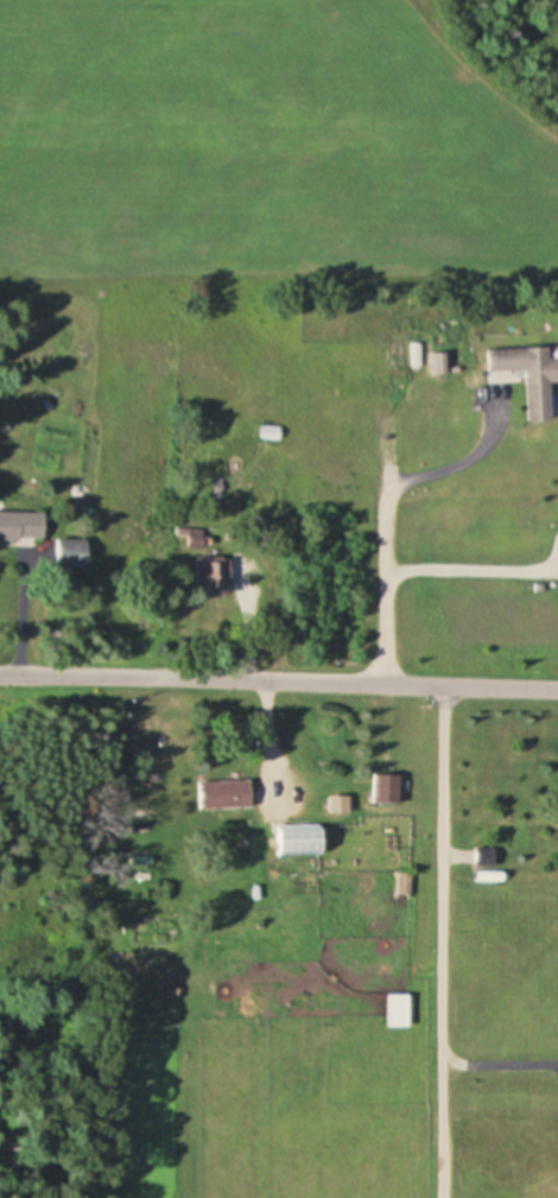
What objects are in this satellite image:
crop: (273, 141)
building: (531, 376)
building: (271, 432)
road: (386, 518)
building: (21, 526)
road: (471, 571)
building: (210, 572)
road: (24, 619)
road: (251, 636)
road: (279, 680)
road: (264, 730)
building: (386, 788)
building: (224, 794)
building: (300, 839)
road: (443, 940)
building: (398, 1010)
road: (500, 1065)

